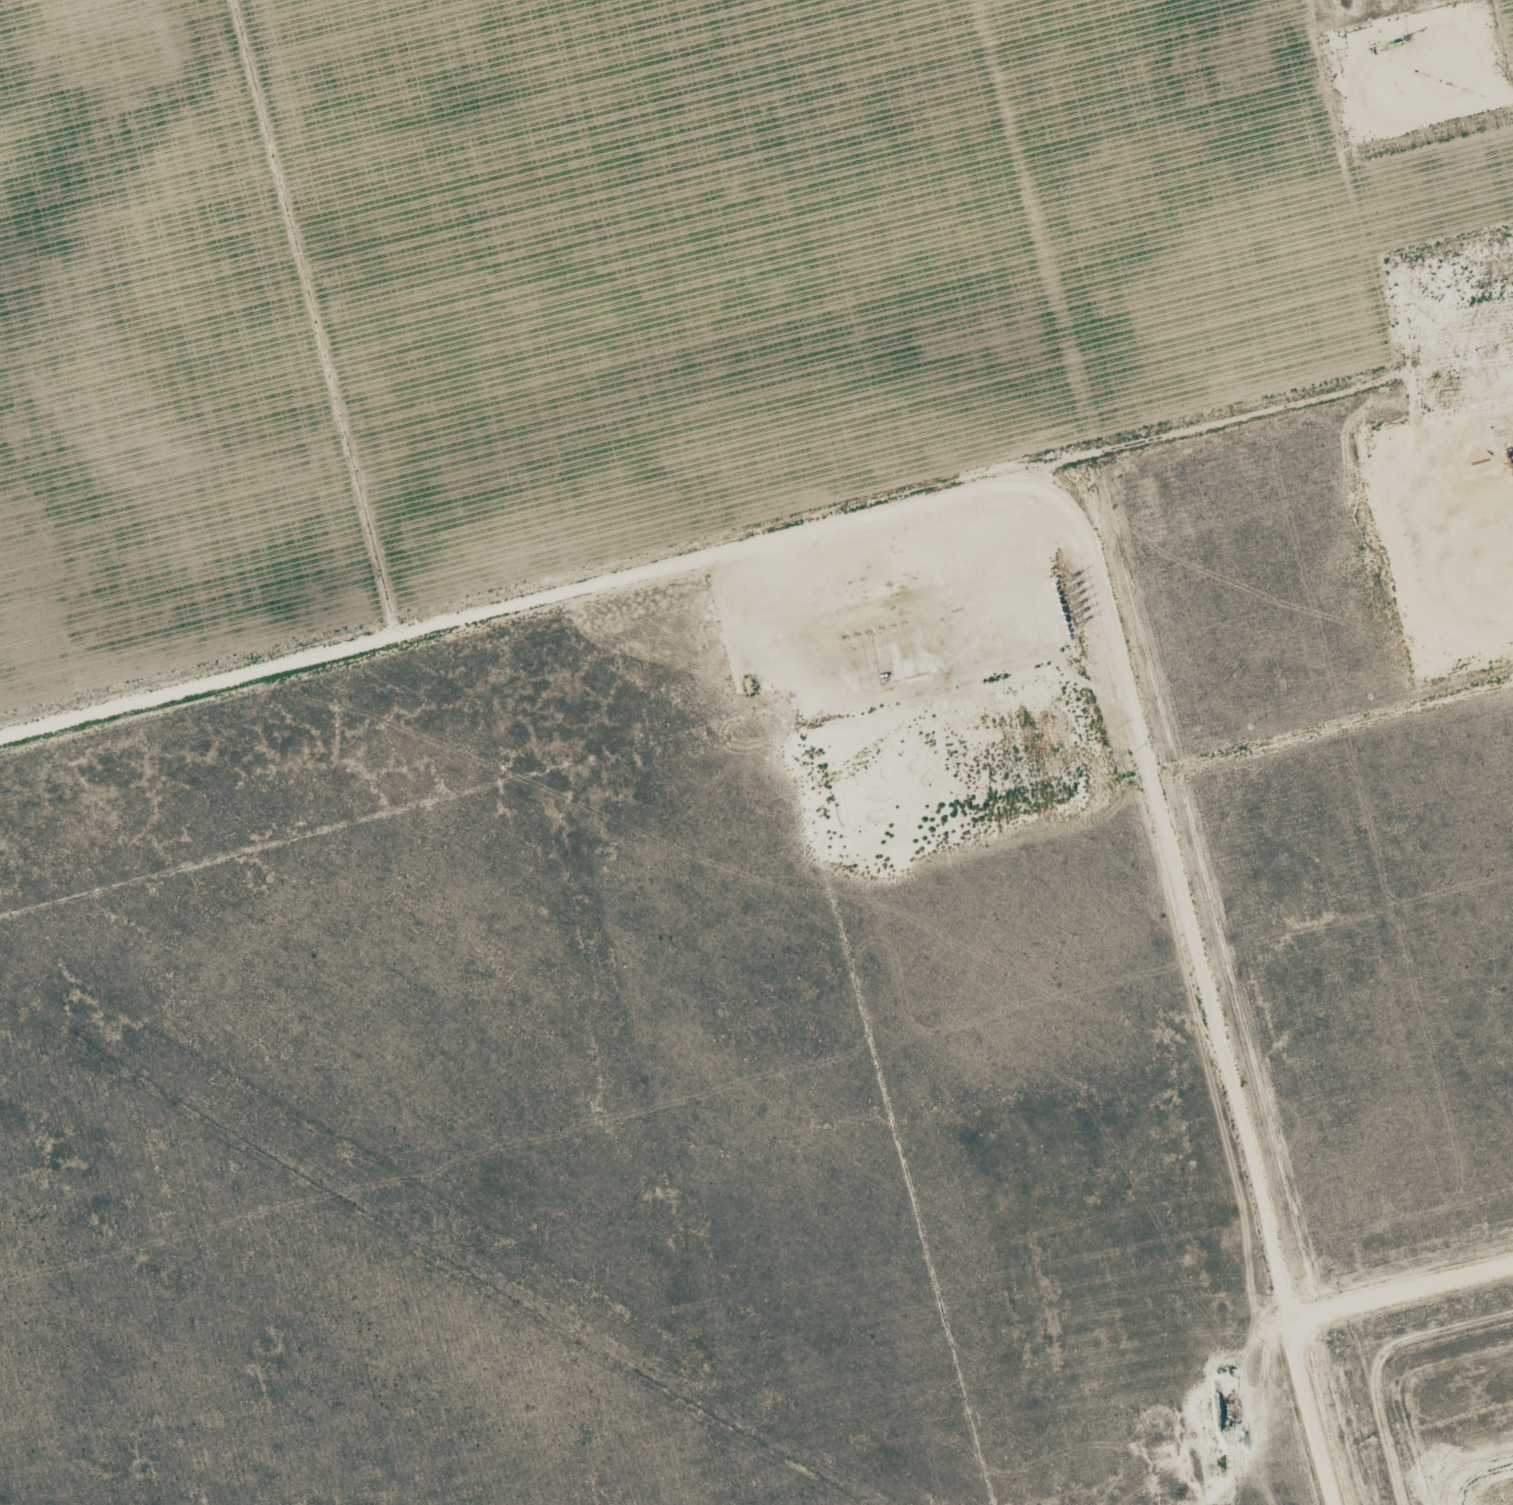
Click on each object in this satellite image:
road: (1311, 1303)

